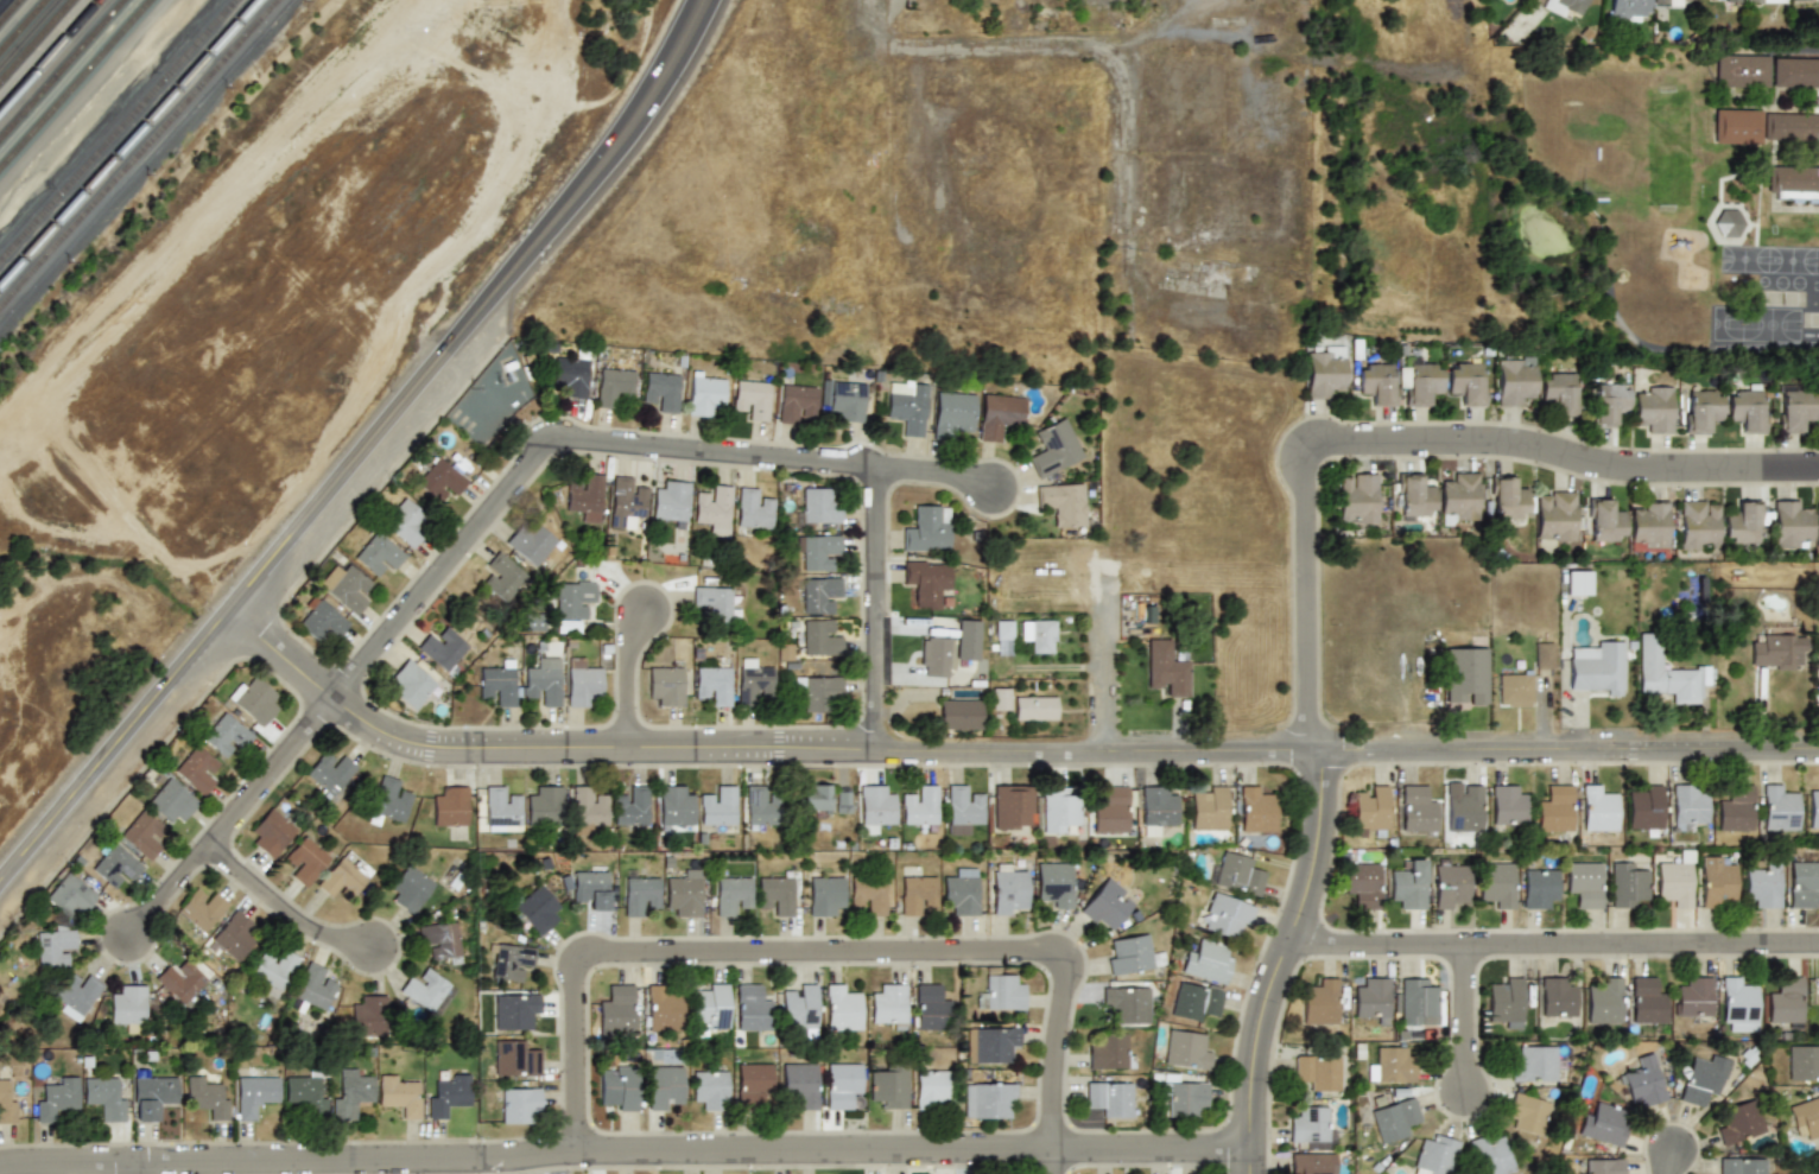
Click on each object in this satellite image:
building: (1732, 0)
building: (1799, 0)
building: (1672, 1)
building: (1764, 1)
building: (1563, 5)
building: (1628, 9)
railway: (11, 12)
railway: (24, 26)
road: (975, 37)
railway: (37, 40)
road: (1802, 50)
railway: (50, 55)
railway: (63, 70)
building: (1767, 71)
railway: (76, 84)
building: (1766, 127)
railway: (118, 129)
railway: (128, 141)
railway: (139, 153)
road: (600, 167)
building: (1793, 183)
building: (1728, 223)
building: (511, 364)
building: (1324, 369)
building: (570, 375)
building: (1514, 379)
building: (1421, 381)
building: (1465, 381)
building: (1376, 382)
building: (613, 386)
building: (660, 391)
building: (1559, 391)
building: (704, 392)
power substation: (493, 398)
building: (752, 399)
building: (794, 399)
building: (850, 400)
building: (1608, 402)
building: (907, 404)
building: (1654, 407)
building: (1745, 408)
building: (1793, 408)
building: (1700, 410)
building: (952, 413)
building: (997, 414)
road: (516, 424)
road: (547, 439)
building: (1053, 448)
road: (1427, 456)
road: (1563, 456)
road: (940, 474)
building: (441, 478)
building: (584, 496)
building: (1414, 497)
building: (1460, 497)
building: (1508, 499)
building: (1357, 500)
building: (625, 501)
building: (670, 502)
building: (1064, 503)
building: (711, 504)
building: (817, 508)
building: (750, 510)
building: (1555, 515)
building: (404, 521)
building: (1605, 521)
building: (1817, 521)
building: (1742, 523)
building: (1650, 525)
building: (1699, 525)
building: (1791, 525)
building: (928, 529)
building: (530, 542)
building: (816, 551)
building: (378, 554)
building: (502, 575)
building: (927, 580)
building: (1578, 583)
building: (346, 586)
building: (818, 594)
building: (571, 602)
building: (711, 603)
road: (230, 605)
road: (879, 609)
building: (319, 618)
building: (1037, 634)
building: (1003, 636)
building: (816, 637)
building: (968, 639)
building: (442, 647)
building: (1775, 649)
building: (1544, 654)
building: (934, 656)
building: (1164, 666)
building: (1595, 667)
road: (1109, 673)
building: (1668, 673)
building: (1465, 675)
road: (627, 678)
building: (752, 680)
building: (543, 681)
building: (582, 681)
building: (499, 683)
building: (712, 683)
building: (410, 684)
building: (665, 684)
building: (1818, 684)
building: (1515, 690)
building: (818, 691)
building: (1000, 698)
building: (253, 700)
building: (1034, 707)
building: (959, 713)
building: (226, 734)
road: (1580, 735)
road: (1630, 749)
road: (1000, 750)
road: (1342, 763)
road: (1578, 763)
building: (196, 769)
building: (330, 772)
building: (815, 797)
building: (389, 799)
building: (171, 800)
building: (841, 801)
building: (544, 804)
building: (758, 804)
building: (676, 805)
building: (876, 805)
building: (1508, 805)
building: (1813, 805)
building: (718, 806)
building: (1012, 806)
building: (1643, 806)
building: (1686, 806)
building: (449, 807)
building: (501, 807)
building: (585, 807)
building: (630, 807)
building: (919, 807)
building: (962, 807)
building: (1155, 807)
building: (1208, 807)
building: (1597, 807)
building: (1736, 807)
building: (1776, 807)
building: (1418, 808)
building: (1554, 808)
building: (1111, 810)
building: (1256, 810)
building: (1370, 810)
building: (1464, 810)
building: (1058, 811)
road: (1318, 814)
road: (234, 824)
building: (271, 831)
building: (141, 835)
building: (305, 861)
building: (115, 864)
building: (1236, 872)
building: (343, 876)
building: (1675, 880)
building: (1627, 882)
building: (1802, 882)
building: (1053, 883)
building: (1408, 883)
building: (1496, 883)
building: (1584, 883)
building: (1717, 883)
building: (1362, 884)
building: (1450, 884)
building: (1763, 884)
building: (410, 886)
building: (1536, 886)
building: (591, 888)
building: (1007, 890)
building: (961, 891)
building: (775, 893)
building: (69, 894)
building: (683, 894)
building: (731, 894)
building: (869, 894)
building: (917, 894)
building: (639, 895)
building: (825, 896)
building: (1107, 905)
building: (201, 908)
building: (535, 909)
building: (1227, 914)
road: (289, 915)
road: (1496, 928)
building: (233, 935)
building: (439, 941)
road: (1553, 943)
building: (53, 945)
road: (822, 952)
building: (1132, 954)
building: (1208, 960)
building: (509, 962)
building: (274, 967)
building: (183, 982)
building: (313, 985)
building: (427, 990)
building: (1000, 992)
building: (77, 994)
building: (1558, 996)
building: (1694, 997)
building: (1373, 998)
building: (1196, 1001)
building: (1416, 1001)
building: (1604, 1001)
building: (1648, 1001)
building: (1737, 1001)
building: (1783, 1001)
building: (1320, 1002)
building: (1506, 1002)
building: (1126, 1003)
building: (888, 1004)
building: (798, 1005)
building: (930, 1005)
building: (128, 1007)
building: (709, 1007)
building: (617, 1008)
building: (750, 1008)
building: (842, 1008)
building: (663, 1009)
building: (515, 1010)
building: (369, 1014)
road: (1463, 1018)
building: (990, 1043)
building: (1186, 1049)
building: (1110, 1052)
building: (514, 1059)
building: (1802, 1062)
building: (1533, 1064)
building: (1390, 1065)
building: (1317, 1072)
building: (1701, 1078)
building: (1642, 1081)
building: (799, 1084)
building: (842, 1084)
building: (754, 1085)
building: (889, 1085)
building: (664, 1086)
building: (617, 1087)
building: (710, 1089)
building: (932, 1089)
building: (349, 1091)
building: (305, 1093)
building: (254, 1094)
building: (151, 1096)
building: (205, 1096)
building: (399, 1096)
building: (448, 1096)
building: (104, 1097)
building: (1183, 1097)
building: (56, 1098)
building: (1109, 1098)
building: (989, 1100)
building: (518, 1103)
building: (6, 1104)
building: (1527, 1112)
building: (1805, 1117)
building: (1394, 1118)
building: (1738, 1122)
building: (1599, 1123)
building: (1311, 1129)
road: (625, 1150)
building: (1434, 1156)
building: (1492, 1156)
road: (1053, 1161)
building: (1312, 1163)
road: (1658, 1165)
building: (1602, 1166)
building: (1739, 1166)
road: (131, 1168)

